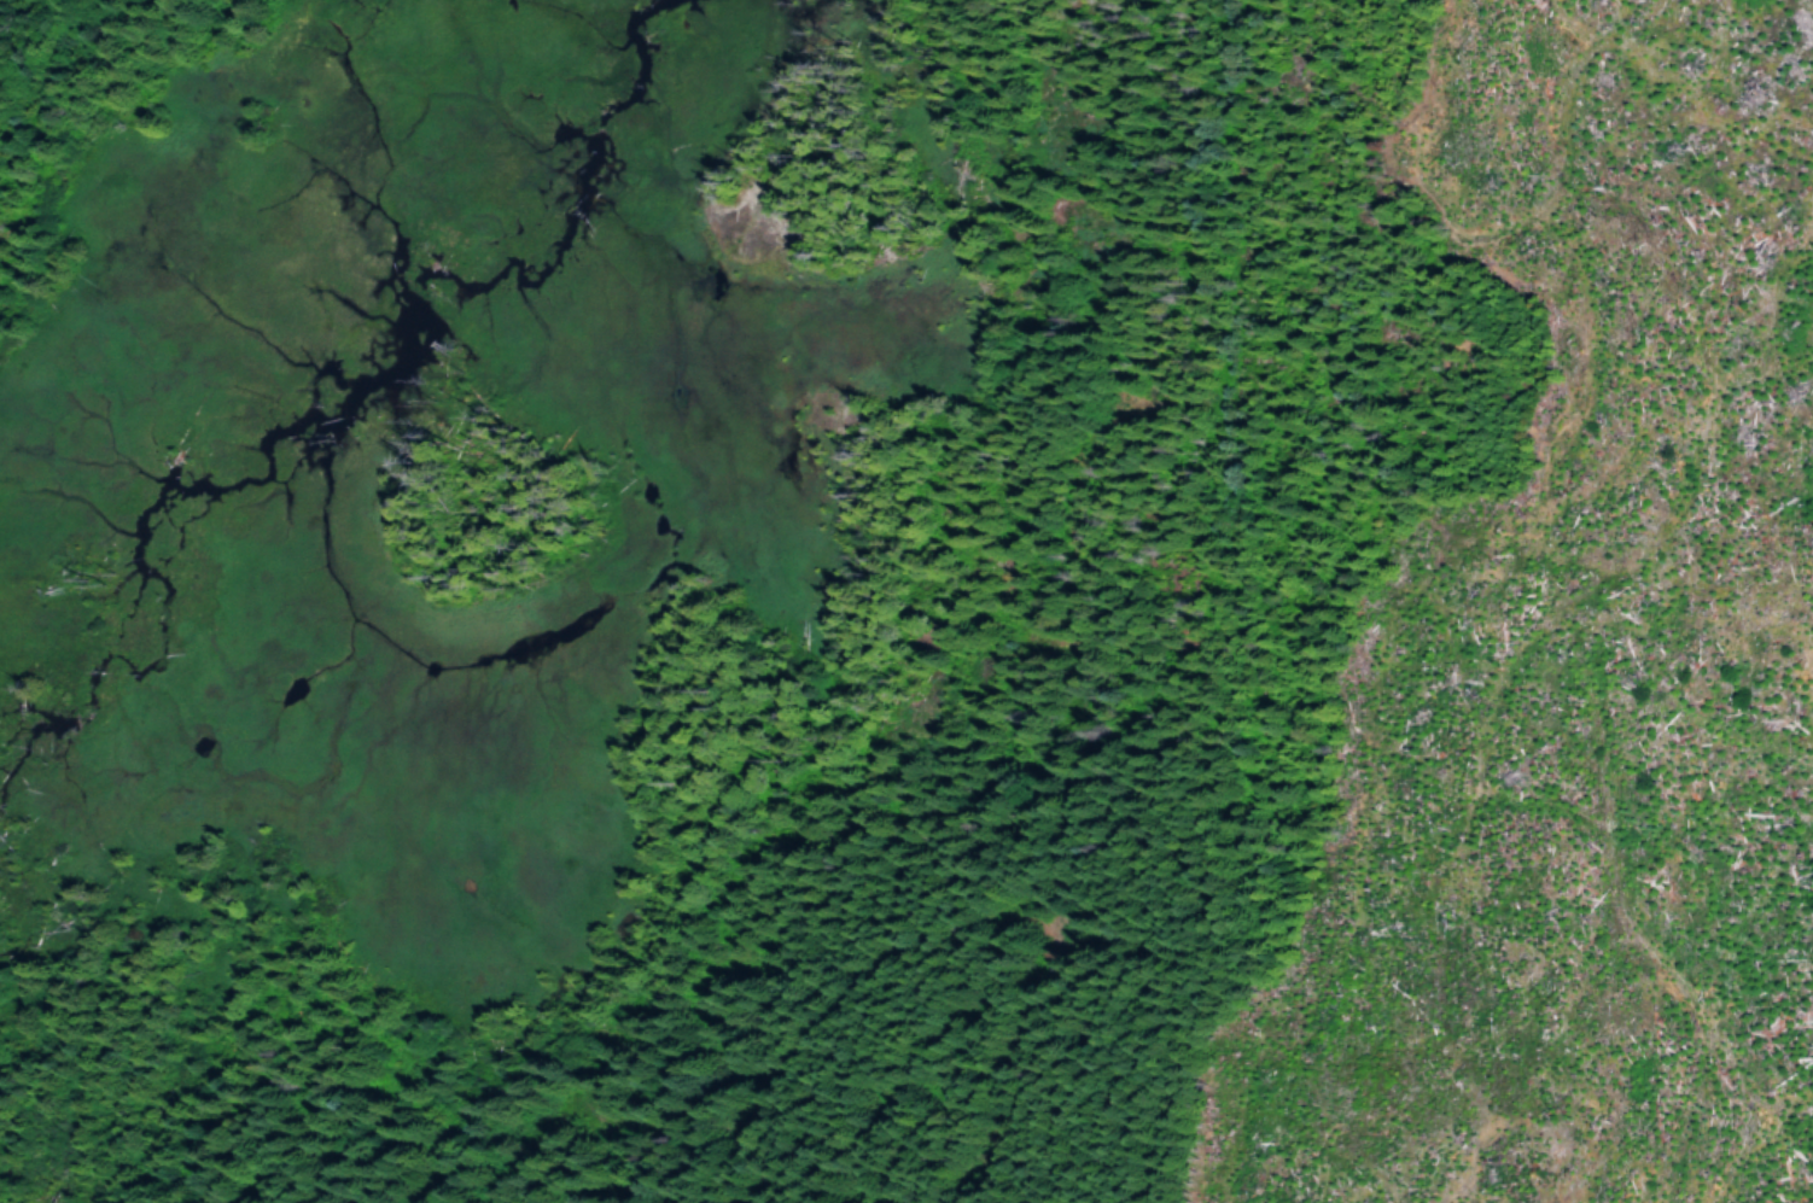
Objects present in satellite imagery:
road: (1088, 831)

